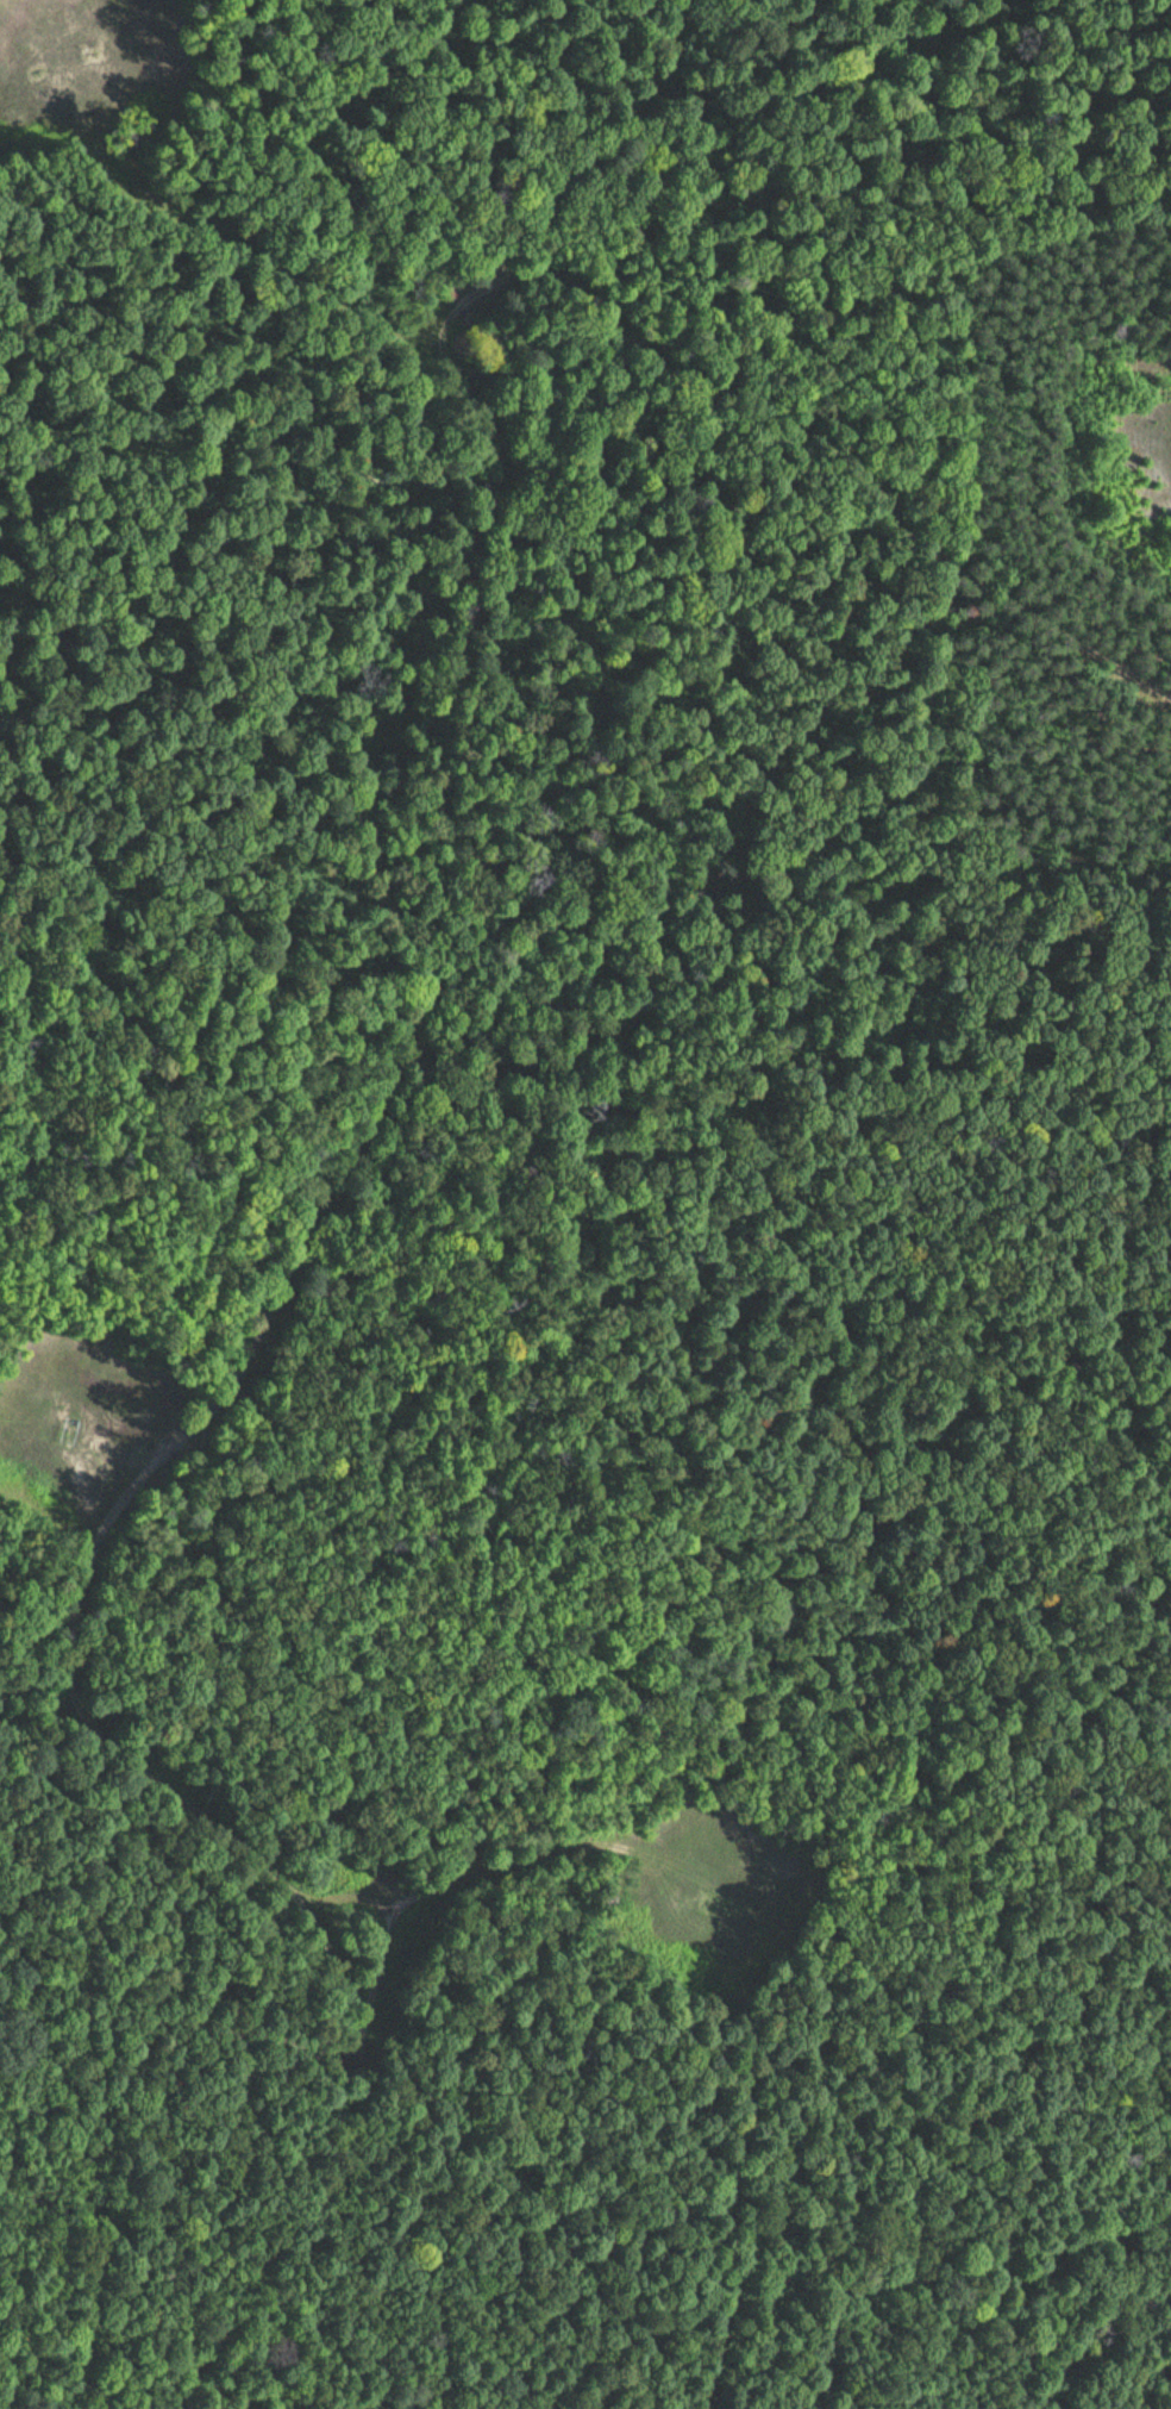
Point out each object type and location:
road: (960, 50)
road: (956, 345)
road: (1075, 650)
road: (581, 2172)

